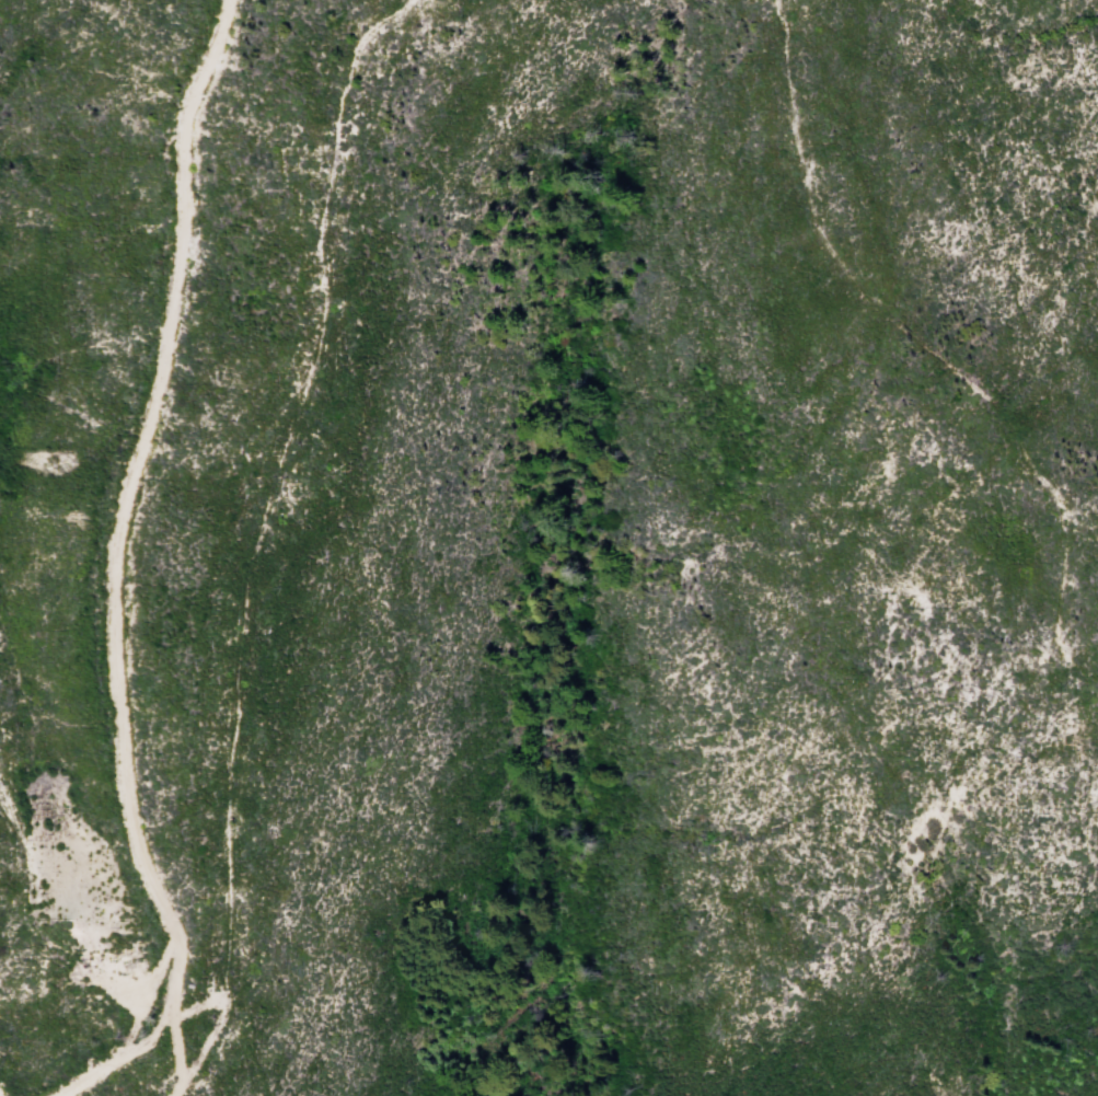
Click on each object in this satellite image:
road: (880, 300)
road: (258, 537)
road: (105, 573)
road: (193, 1007)
road: (171, 1054)

